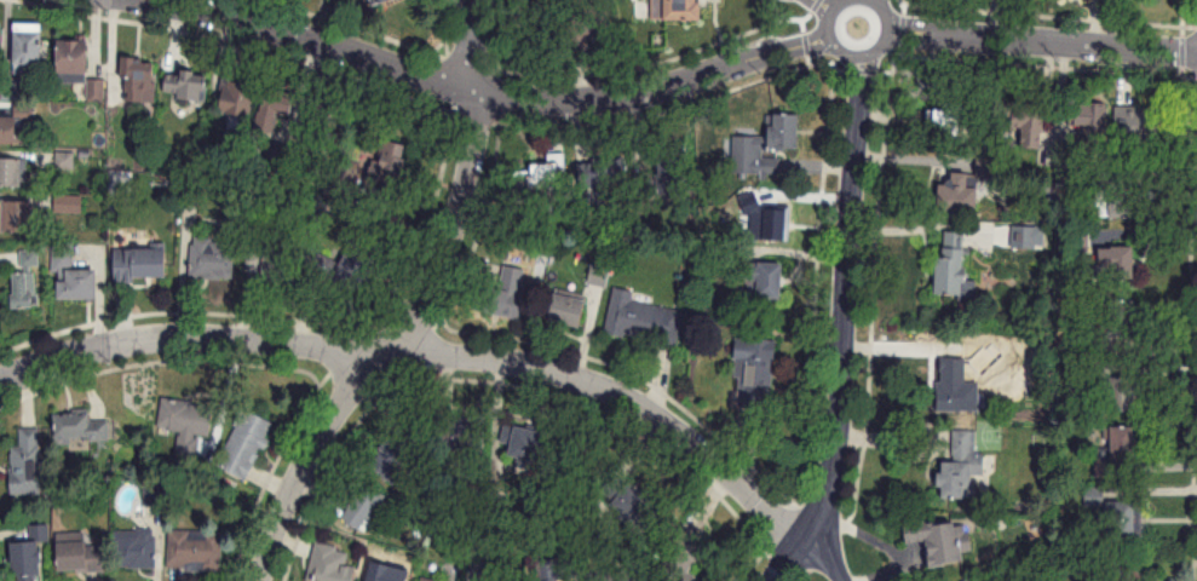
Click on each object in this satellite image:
building: (384, 0)
building: (678, 8)
road: (825, 13)
building: (581, 30)
building: (29, 47)
building: (74, 61)
building: (138, 80)
building: (186, 85)
road: (663, 87)
building: (237, 103)
building: (281, 113)
building: (948, 119)
building: (1031, 123)
building: (1089, 125)
building: (326, 126)
building: (1139, 126)
building: (15, 130)
building: (770, 138)
building: (391, 162)
building: (675, 165)
building: (11, 172)
building: (546, 174)
building: (602, 178)
building: (959, 192)
building: (1116, 192)
building: (18, 215)
building: (770, 223)
building: (213, 258)
building: (254, 261)
building: (142, 263)
building: (954, 263)
building: (281, 264)
building: (1118, 264)
building: (349, 266)
road: (848, 274)
building: (73, 275)
building: (598, 275)
building: (769, 280)
building: (27, 281)
building: (506, 293)
road: (415, 307)
building: (569, 310)
building: (643, 318)
road: (427, 356)
building: (756, 369)
building: (956, 379)
building: (1122, 392)
building: (185, 418)
building: (82, 427)
building: (460, 437)
building: (528, 442)
building: (246, 444)
building: (1118, 451)
building: (395, 458)
building: (27, 464)
building: (962, 465)
building: (364, 507)
building: (1126, 520)
building: (940, 540)
building: (136, 548)
building: (195, 550)
building: (79, 553)
building: (29, 554)
building: (379, 554)
building: (684, 557)
road: (788, 562)
road: (823, 562)
building: (329, 565)
building: (556, 569)
building: (616, 576)
building: (387, 577)

